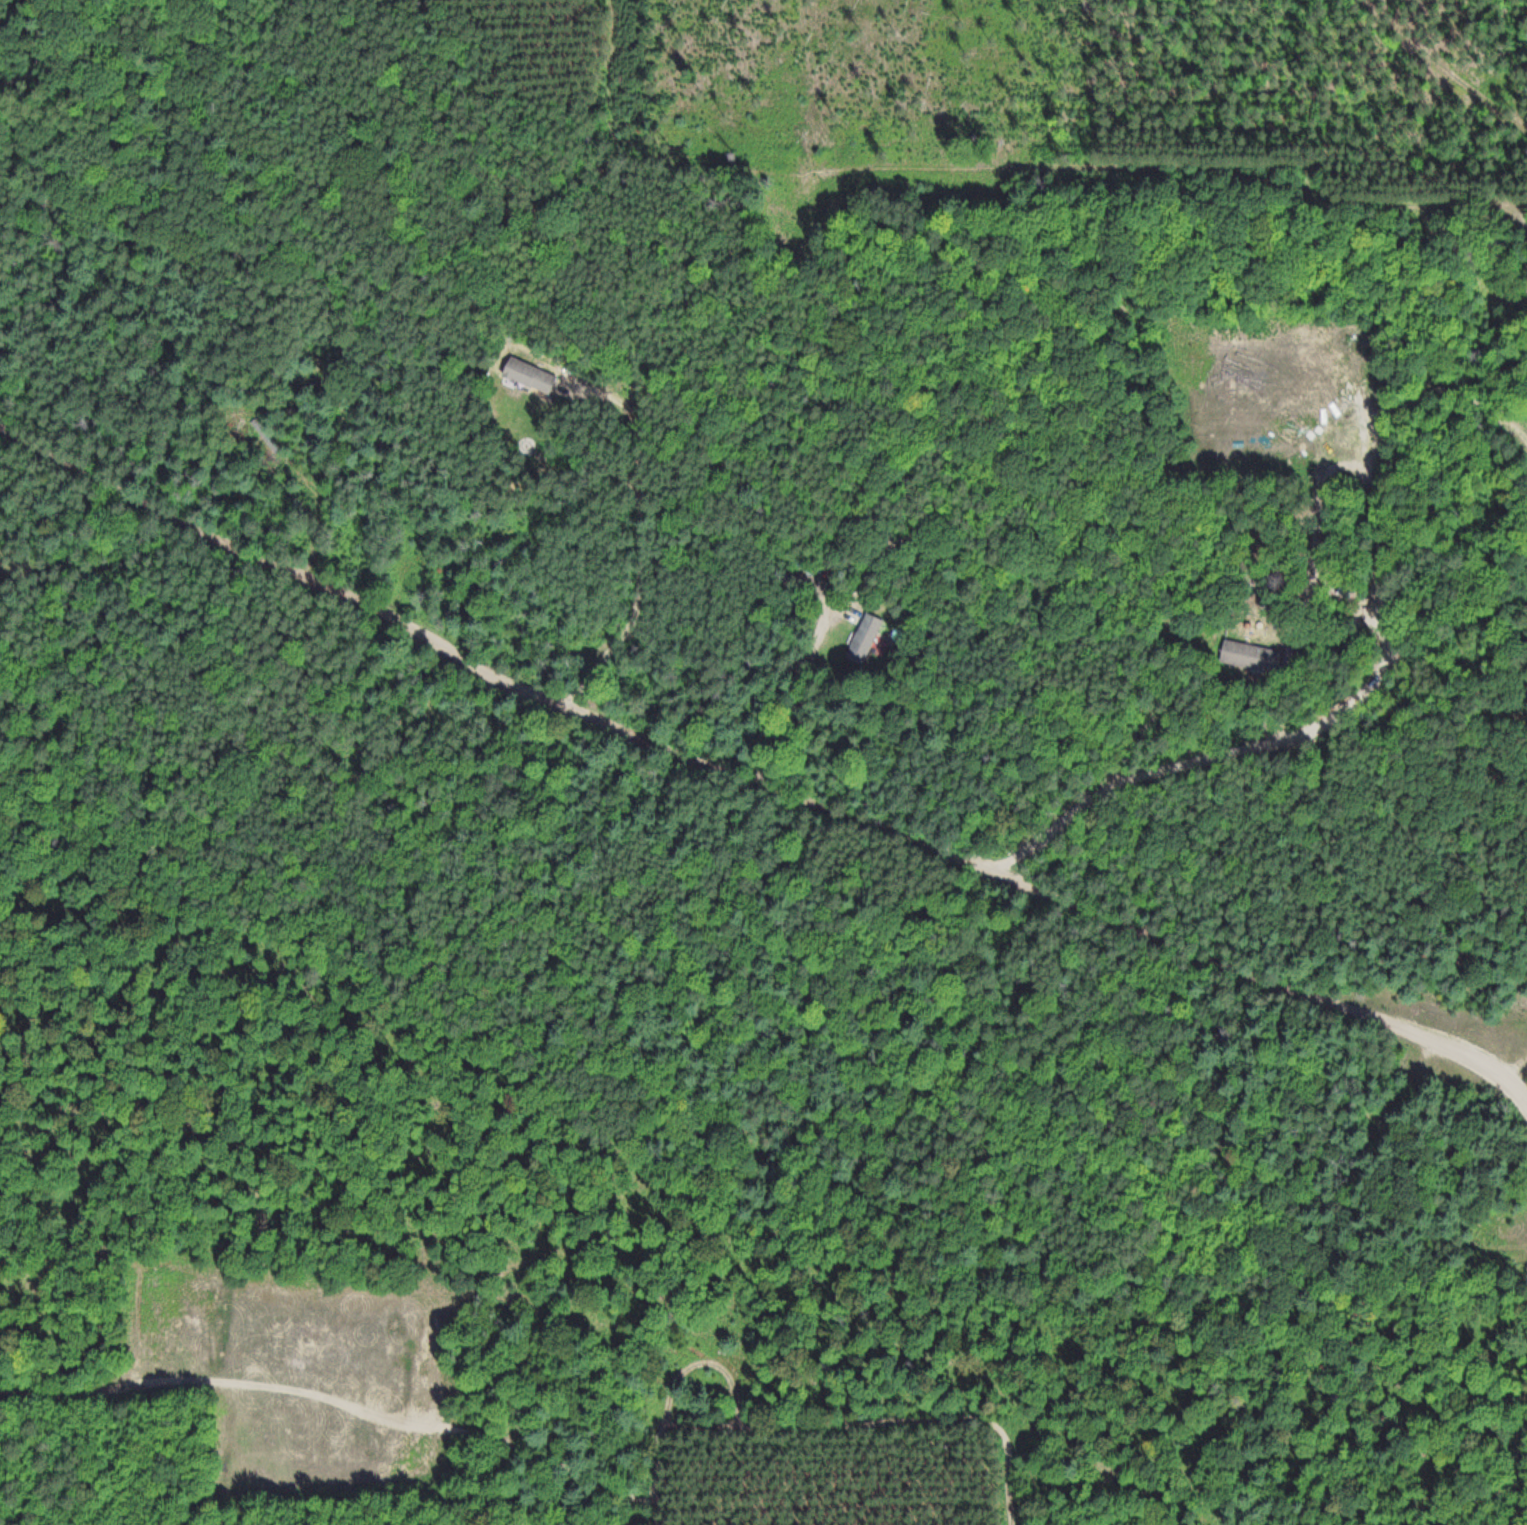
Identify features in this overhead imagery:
building: (526, 374)
road: (1369, 476)
building: (864, 637)
building: (1248, 654)
road: (755, 786)
road: (1517, 1070)

